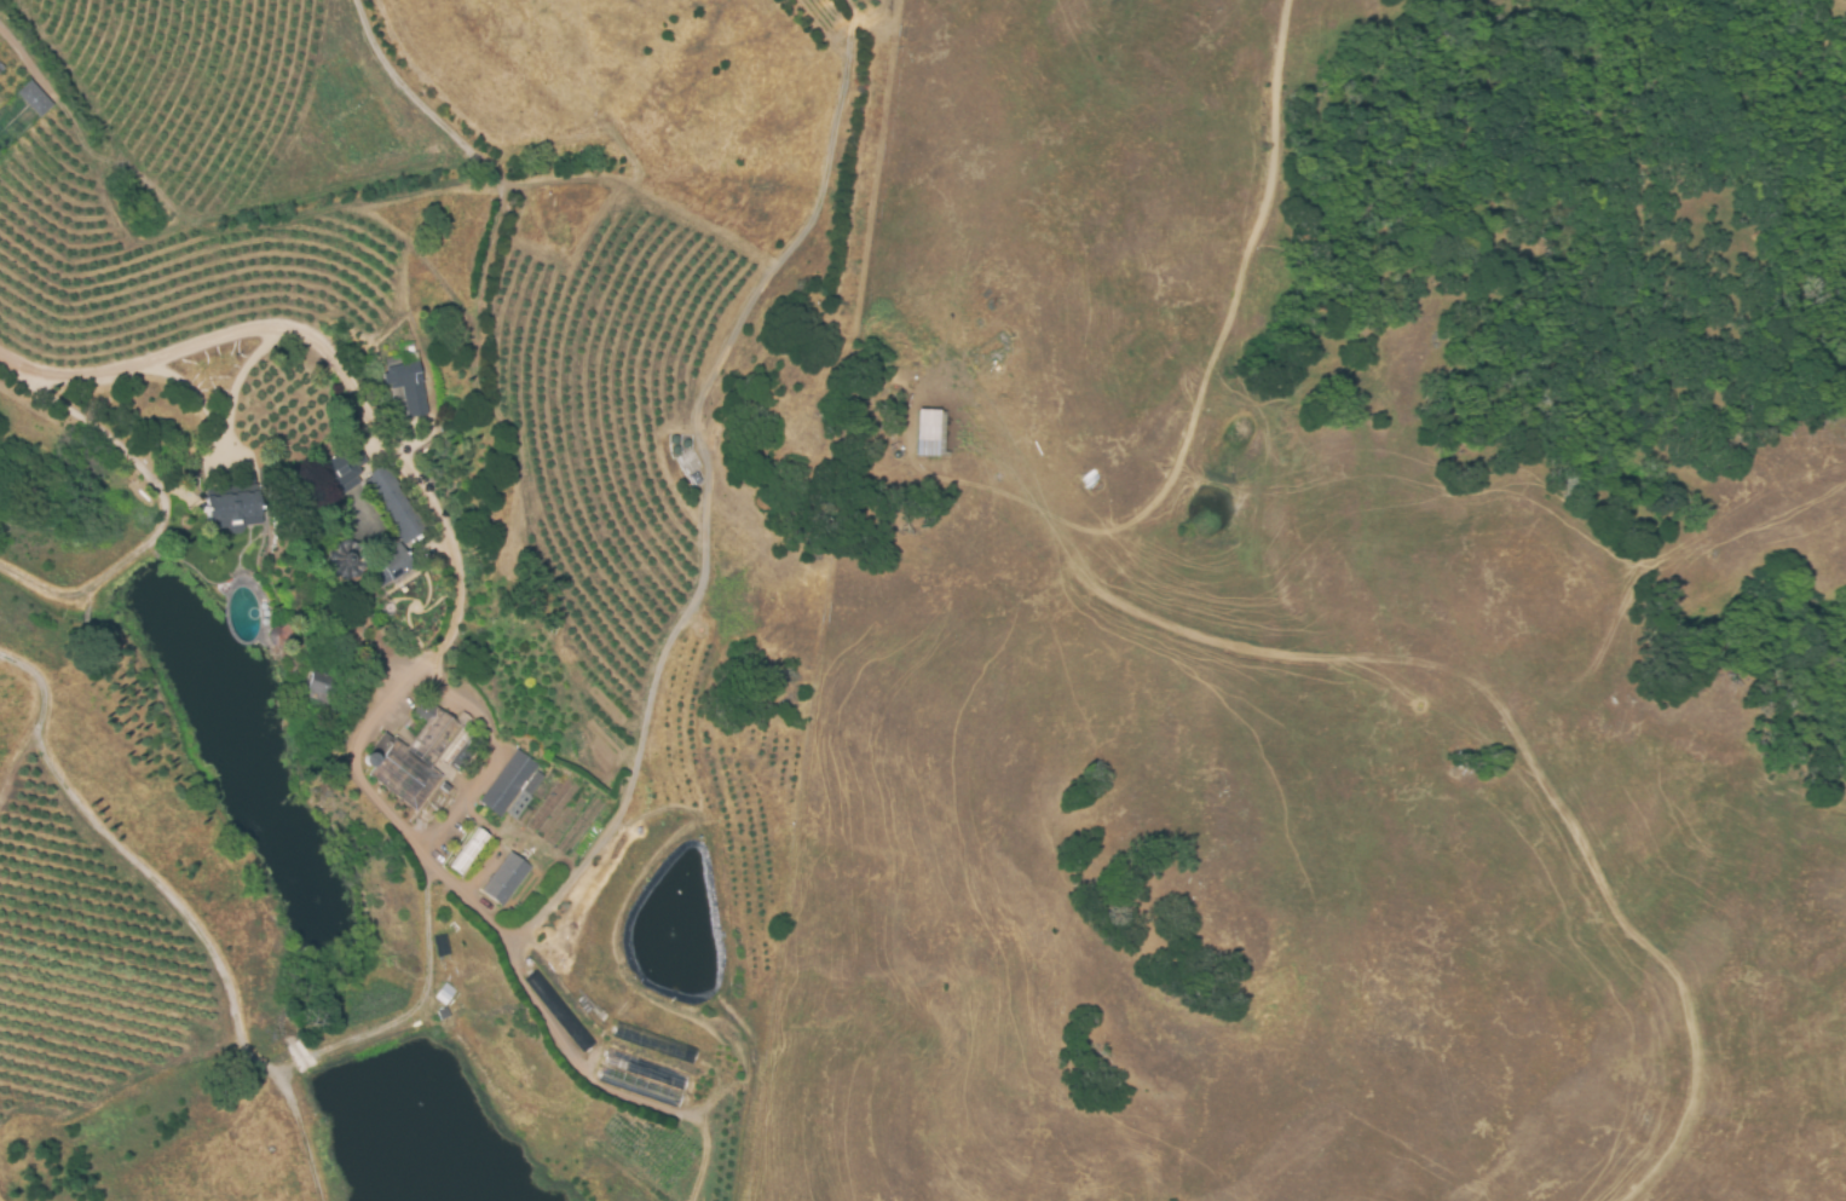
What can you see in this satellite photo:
road: (23, 51)
building: (34, 98)
building: (408, 387)
building: (929, 433)
building: (380, 496)
building: (235, 510)
building: (393, 564)
building: (512, 783)
building: (469, 850)
building: (506, 878)
road: (463, 896)

